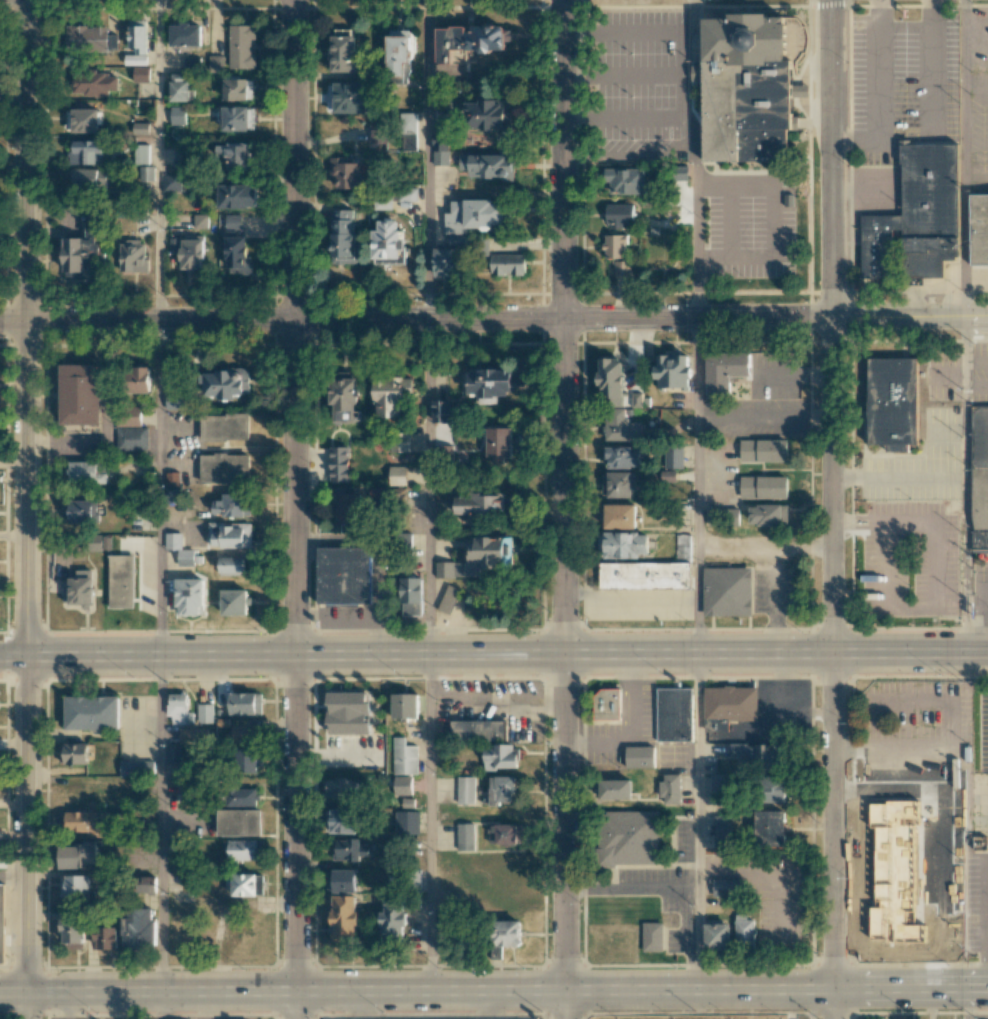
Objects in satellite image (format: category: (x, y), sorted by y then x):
road: (904, 30)
road: (628, 31)
building: (137, 35)
building: (185, 35)
building: (86, 38)
building: (468, 42)
building: (241, 46)
building: (344, 50)
building: (399, 52)
building: (135, 59)
building: (216, 62)
building: (192, 63)
road: (933, 66)
road: (628, 73)
building: (141, 74)
parking lot: (902, 81)
building: (93, 83)
parking lot: (649, 86)
building: (180, 87)
building: (751, 87)
building: (238, 88)
road: (877, 93)
building: (347, 97)
parking lot: (979, 97)
building: (177, 115)
road: (628, 115)
building: (238, 118)
building: (85, 120)
building: (139, 128)
building: (409, 131)
building: (378, 133)
building: (440, 147)
building: (86, 152)
building: (141, 154)
building: (234, 154)
building: (183, 155)
road: (629, 155)
road: (562, 158)
road: (696, 158)
road: (964, 158)
road: (294, 159)
road: (426, 159)
road: (831, 159)
road: (24, 160)
road: (157, 160)
road: (976, 173)
building: (347, 174)
building: (145, 176)
building: (89, 179)
building: (627, 181)
building: (171, 183)
road: (863, 190)
building: (236, 196)
building: (395, 197)
building: (473, 215)
building: (620, 215)
road: (773, 219)
building: (200, 220)
road: (730, 220)
building: (233, 221)
building: (915, 221)
parking lot: (749, 226)
building: (979, 231)
building: (343, 238)
building: (456, 240)
building: (663, 242)
building: (388, 243)
building: (80, 248)
building: (188, 250)
building: (619, 252)
building: (237, 254)
building: (132, 256)
building: (446, 262)
building: (507, 264)
road: (493, 318)
parking lot: (979, 373)
building: (725, 374)
building: (139, 379)
building: (611, 380)
building: (223, 383)
building: (488, 385)
road: (107, 386)
building: (81, 395)
building: (391, 395)
building: (344, 399)
building: (176, 401)
building: (894, 403)
building: (442, 411)
building: (132, 416)
building: (620, 426)
building: (224, 427)
building: (132, 438)
building: (400, 441)
building: (498, 441)
road: (61, 442)
building: (763, 450)
building: (673, 456)
building: (622, 457)
building: (339, 464)
building: (224, 468)
building: (82, 471)
building: (397, 475)
road: (899, 475)
building: (980, 477)
building: (172, 479)
road: (966, 483)
building: (621, 484)
road: (696, 484)
road: (295, 486)
road: (427, 486)
road: (159, 487)
building: (763, 487)
building: (379, 492)
building: (172, 496)
building: (229, 505)
building: (479, 505)
building: (348, 508)
building: (78, 511)
building: (768, 514)
building: (620, 516)
road: (857, 518)
road: (882, 518)
road: (857, 527)
building: (228, 534)
building: (100, 543)
road: (765, 544)
building: (622, 545)
building: (683, 547)
building: (179, 549)
building: (475, 559)
parking lot: (910, 561)
building: (231, 565)
building: (345, 575)
building: (646, 577)
building: (122, 582)
parking lot: (980, 583)
building: (78, 591)
building: (723, 592)
parking lot: (771, 593)
building: (189, 596)
building: (411, 596)
road: (987, 597)
road: (772, 598)
building: (448, 599)
building: (234, 602)
road: (987, 610)
road: (494, 653)
road: (834, 653)
road: (26, 655)
road: (565, 668)
road: (496, 700)
building: (245, 703)
building: (730, 704)
building: (407, 705)
building: (608, 706)
building: (179, 709)
building: (92, 713)
building: (205, 713)
building: (348, 713)
building: (675, 714)
road: (947, 720)
parking lot: (917, 727)
road: (629, 728)
building: (478, 729)
parking lot: (982, 730)
building: (245, 733)
building: (193, 735)
road: (856, 743)
building: (74, 753)
building: (173, 753)
building: (759, 755)
building: (500, 756)
building: (404, 757)
building: (641, 757)
road: (857, 757)
building: (245, 761)
building: (136, 768)
building: (401, 785)
building: (184, 788)
building: (339, 788)
building: (670, 788)
building: (718, 788)
building: (501, 789)
building: (615, 789)
building: (774, 789)
building: (465, 790)
building: (240, 797)
parking lot: (980, 805)
building: (341, 821)
road: (697, 821)
building: (82, 822)
building: (238, 822)
building: (407, 822)
road: (428, 822)
road: (160, 823)
building: (771, 827)
building: (722, 830)
building: (506, 833)
road: (296, 836)
building: (465, 836)
building: (629, 837)
building: (243, 849)
building: (345, 849)
building: (77, 855)
building: (888, 870)
road: (778, 872)
road: (13, 877)
building: (340, 881)
building: (145, 884)
building: (244, 884)
building: (74, 886)
building: (727, 887)
road: (631, 888)
building: (921, 893)
parking lot: (976, 901)
road: (986, 903)
building: (343, 918)
building: (392, 920)
building: (1, 925)
road: (806, 926)
building: (743, 929)
building: (73, 930)
building: (139, 930)
building: (505, 935)
building: (716, 935)
building: (652, 936)
building: (106, 940)
road: (911, 989)
road: (417, 990)
road: (487, 1004)
road: (834, 1004)
road: (967, 1004)
road: (27, 1005)
road: (160, 1005)
road: (357, 1005)

